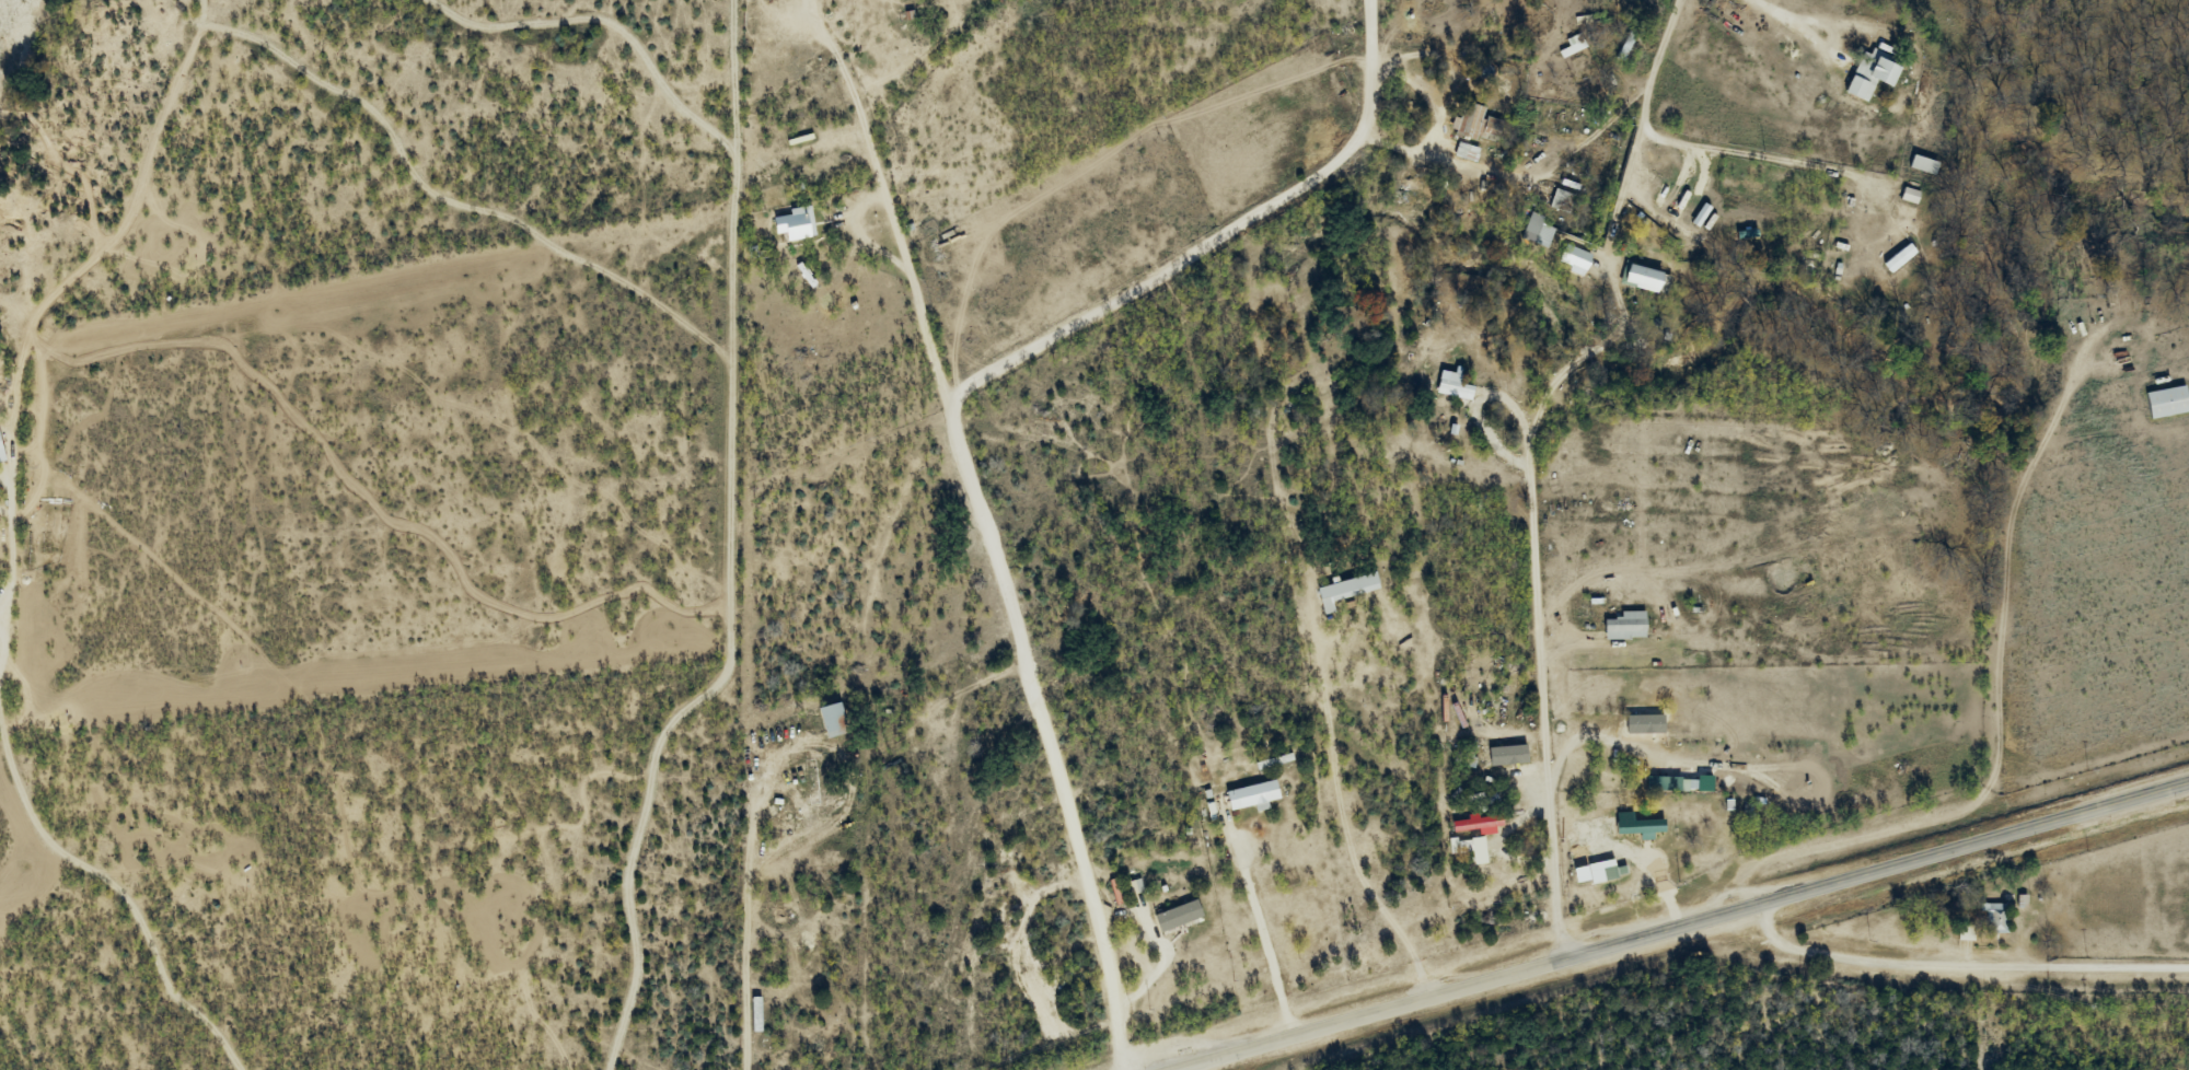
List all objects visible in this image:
building: (1574, 46)
building: (1625, 49)
building: (1874, 74)
road: (2130, 90)
building: (1471, 120)
building: (1924, 165)
building: (1562, 200)
building: (1533, 223)
building: (788, 228)
building: (1900, 257)
building: (1577, 258)
road: (2169, 264)
building: (1645, 278)
building: (2167, 402)
road: (2072, 502)
building: (879, 548)
building: (1347, 590)
building: (1628, 626)
road: (2000, 631)
building: (834, 720)
building: (1683, 732)
building: (1274, 760)
building: (812, 782)
building: (1694, 786)
building: (1254, 795)
building: (1478, 824)
building: (1642, 827)
road: (1072, 837)
building: (1461, 847)
road: (1250, 891)
building: (790, 906)
building: (773, 914)
building: (1174, 914)
building: (1996, 918)
road: (1673, 926)
building: (1966, 933)
road: (1934, 1004)

